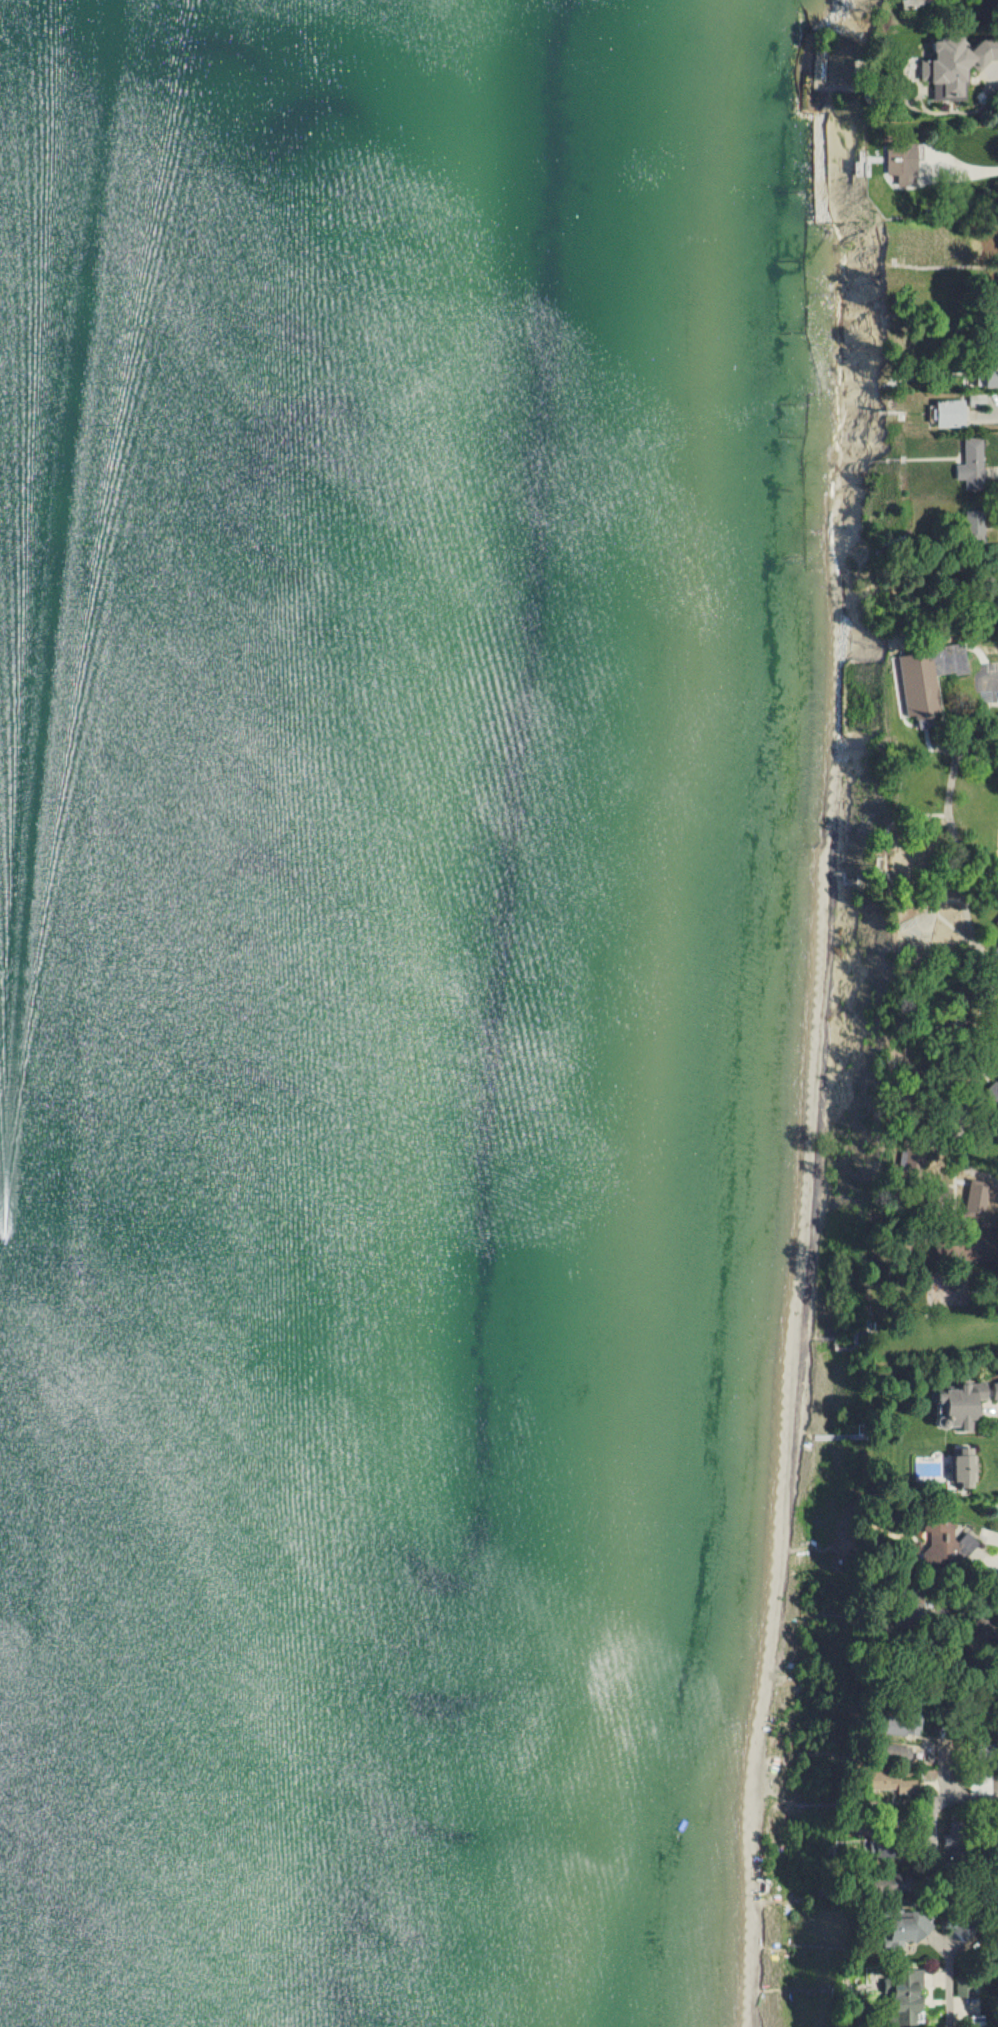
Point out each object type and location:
building: (958, 62)
building: (892, 161)
road: (991, 170)
building: (992, 377)
building: (945, 414)
building: (971, 463)
building: (921, 678)
road: (994, 682)
parking lot: (988, 683)
road: (941, 701)
road: (895, 714)
road: (956, 725)
road: (957, 750)
road: (962, 755)
park: (977, 820)
road: (882, 866)
road: (997, 888)
road: (980, 892)
road: (935, 900)
building: (996, 923)
building: (914, 932)
road: (992, 957)
road: (993, 959)
road: (981, 964)
road: (991, 987)
road: (992, 1087)
road: (996, 1093)
road: (988, 1108)
road: (918, 1124)
road: (980, 1130)
road: (927, 1146)
road: (964, 1150)
road: (949, 1182)
road: (967, 1182)
road: (961, 1191)
road: (956, 1194)
building: (978, 1195)
building: (967, 1243)
building: (966, 1404)
building: (967, 1470)
road: (963, 1646)
building: (901, 1725)
building: (894, 1752)
building: (988, 1755)
building: (883, 1781)
road: (976, 1798)
building: (883, 1821)
building: (956, 1835)
building: (988, 1838)
building: (884, 1848)
building: (886, 1884)
building: (909, 1927)
road: (951, 1989)
building: (907, 1999)

